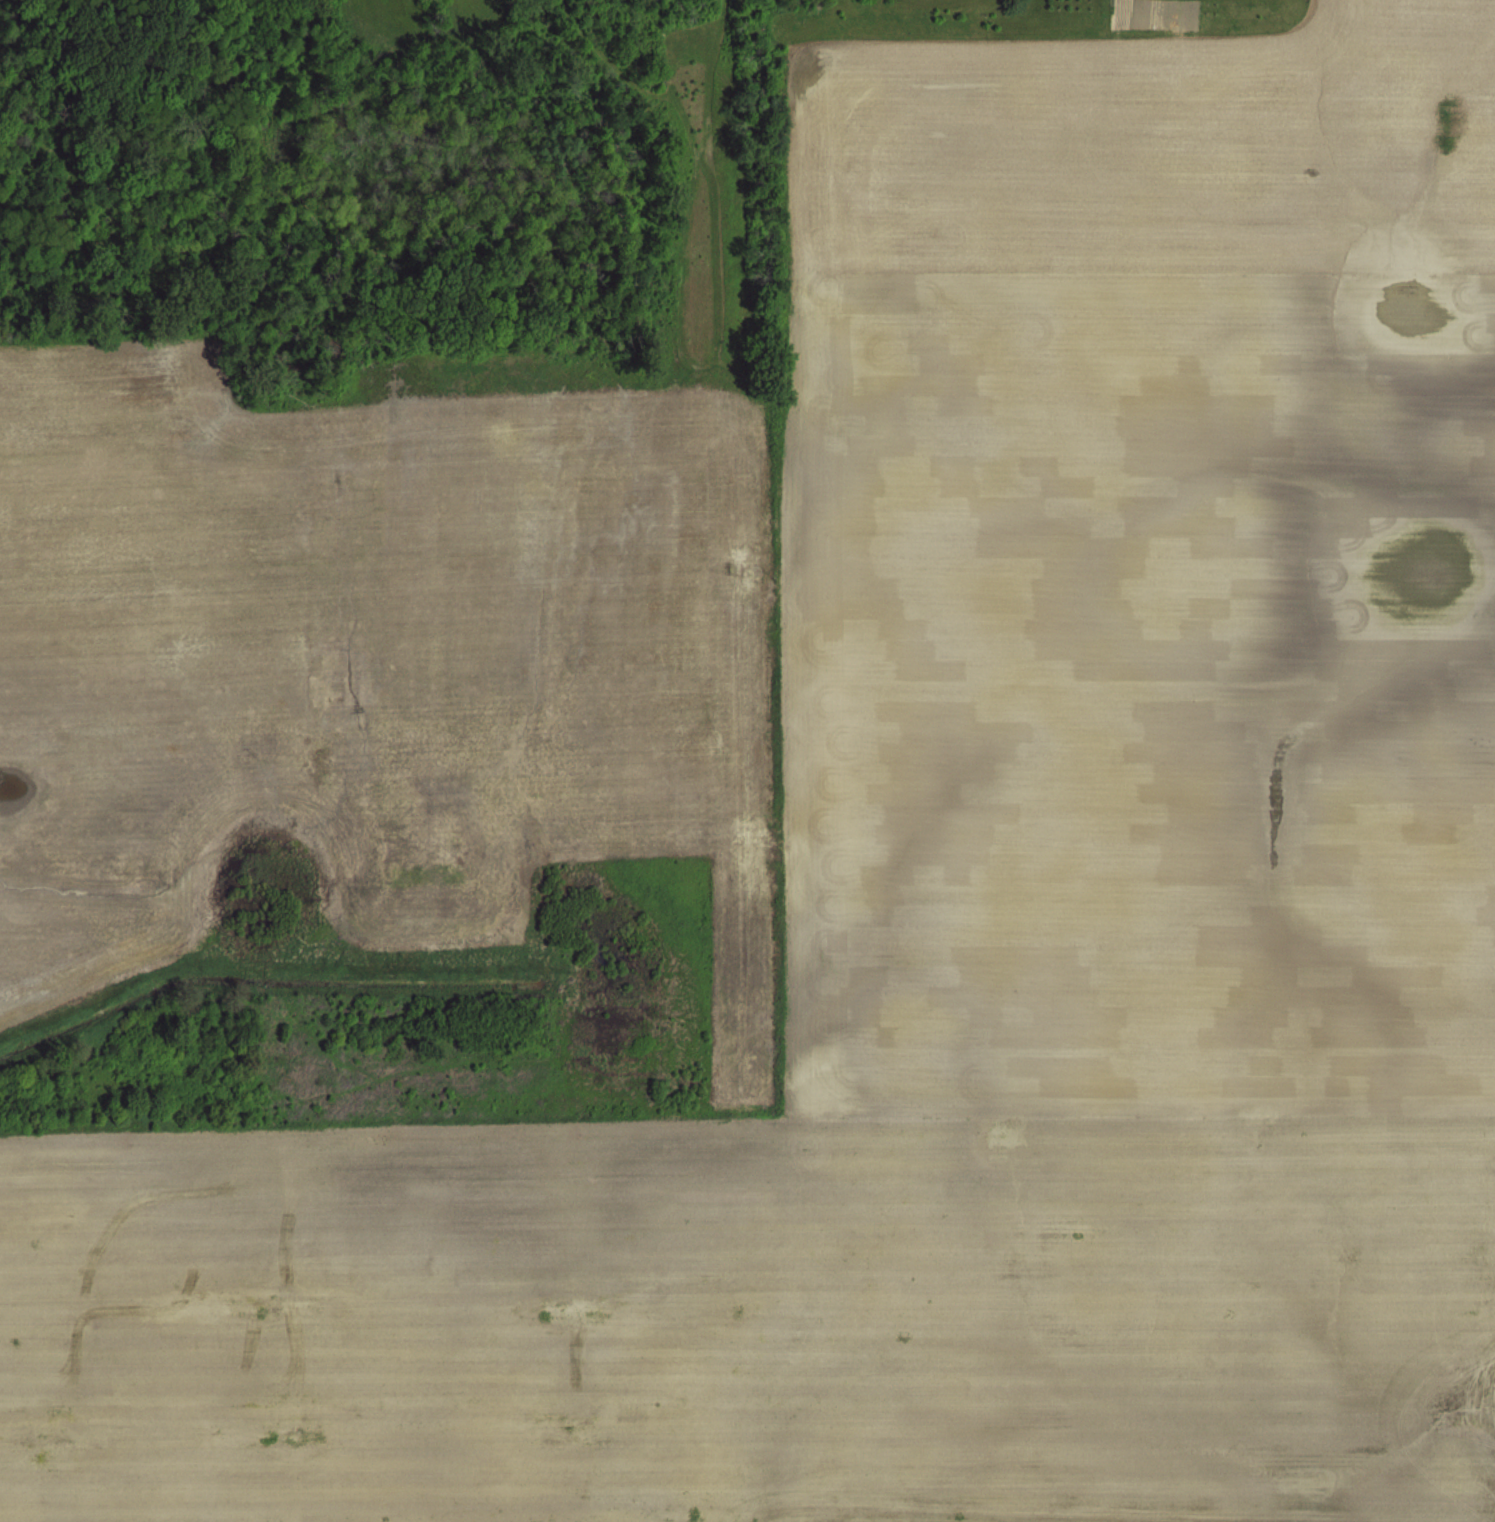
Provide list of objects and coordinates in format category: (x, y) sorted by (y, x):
crop: (747, 761)

